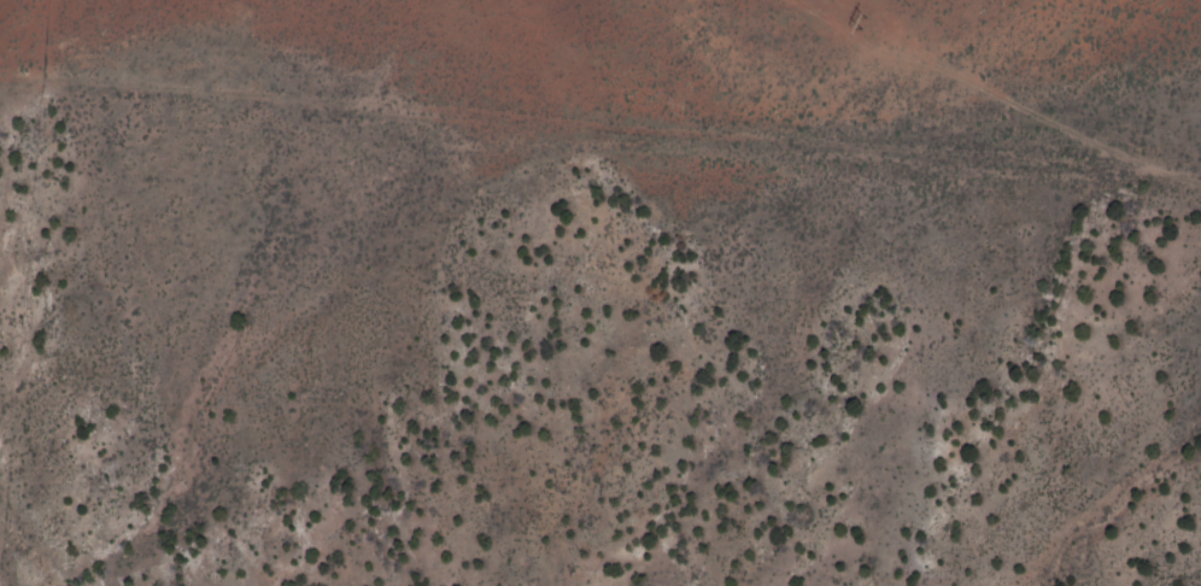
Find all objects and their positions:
road: (602, 181)

